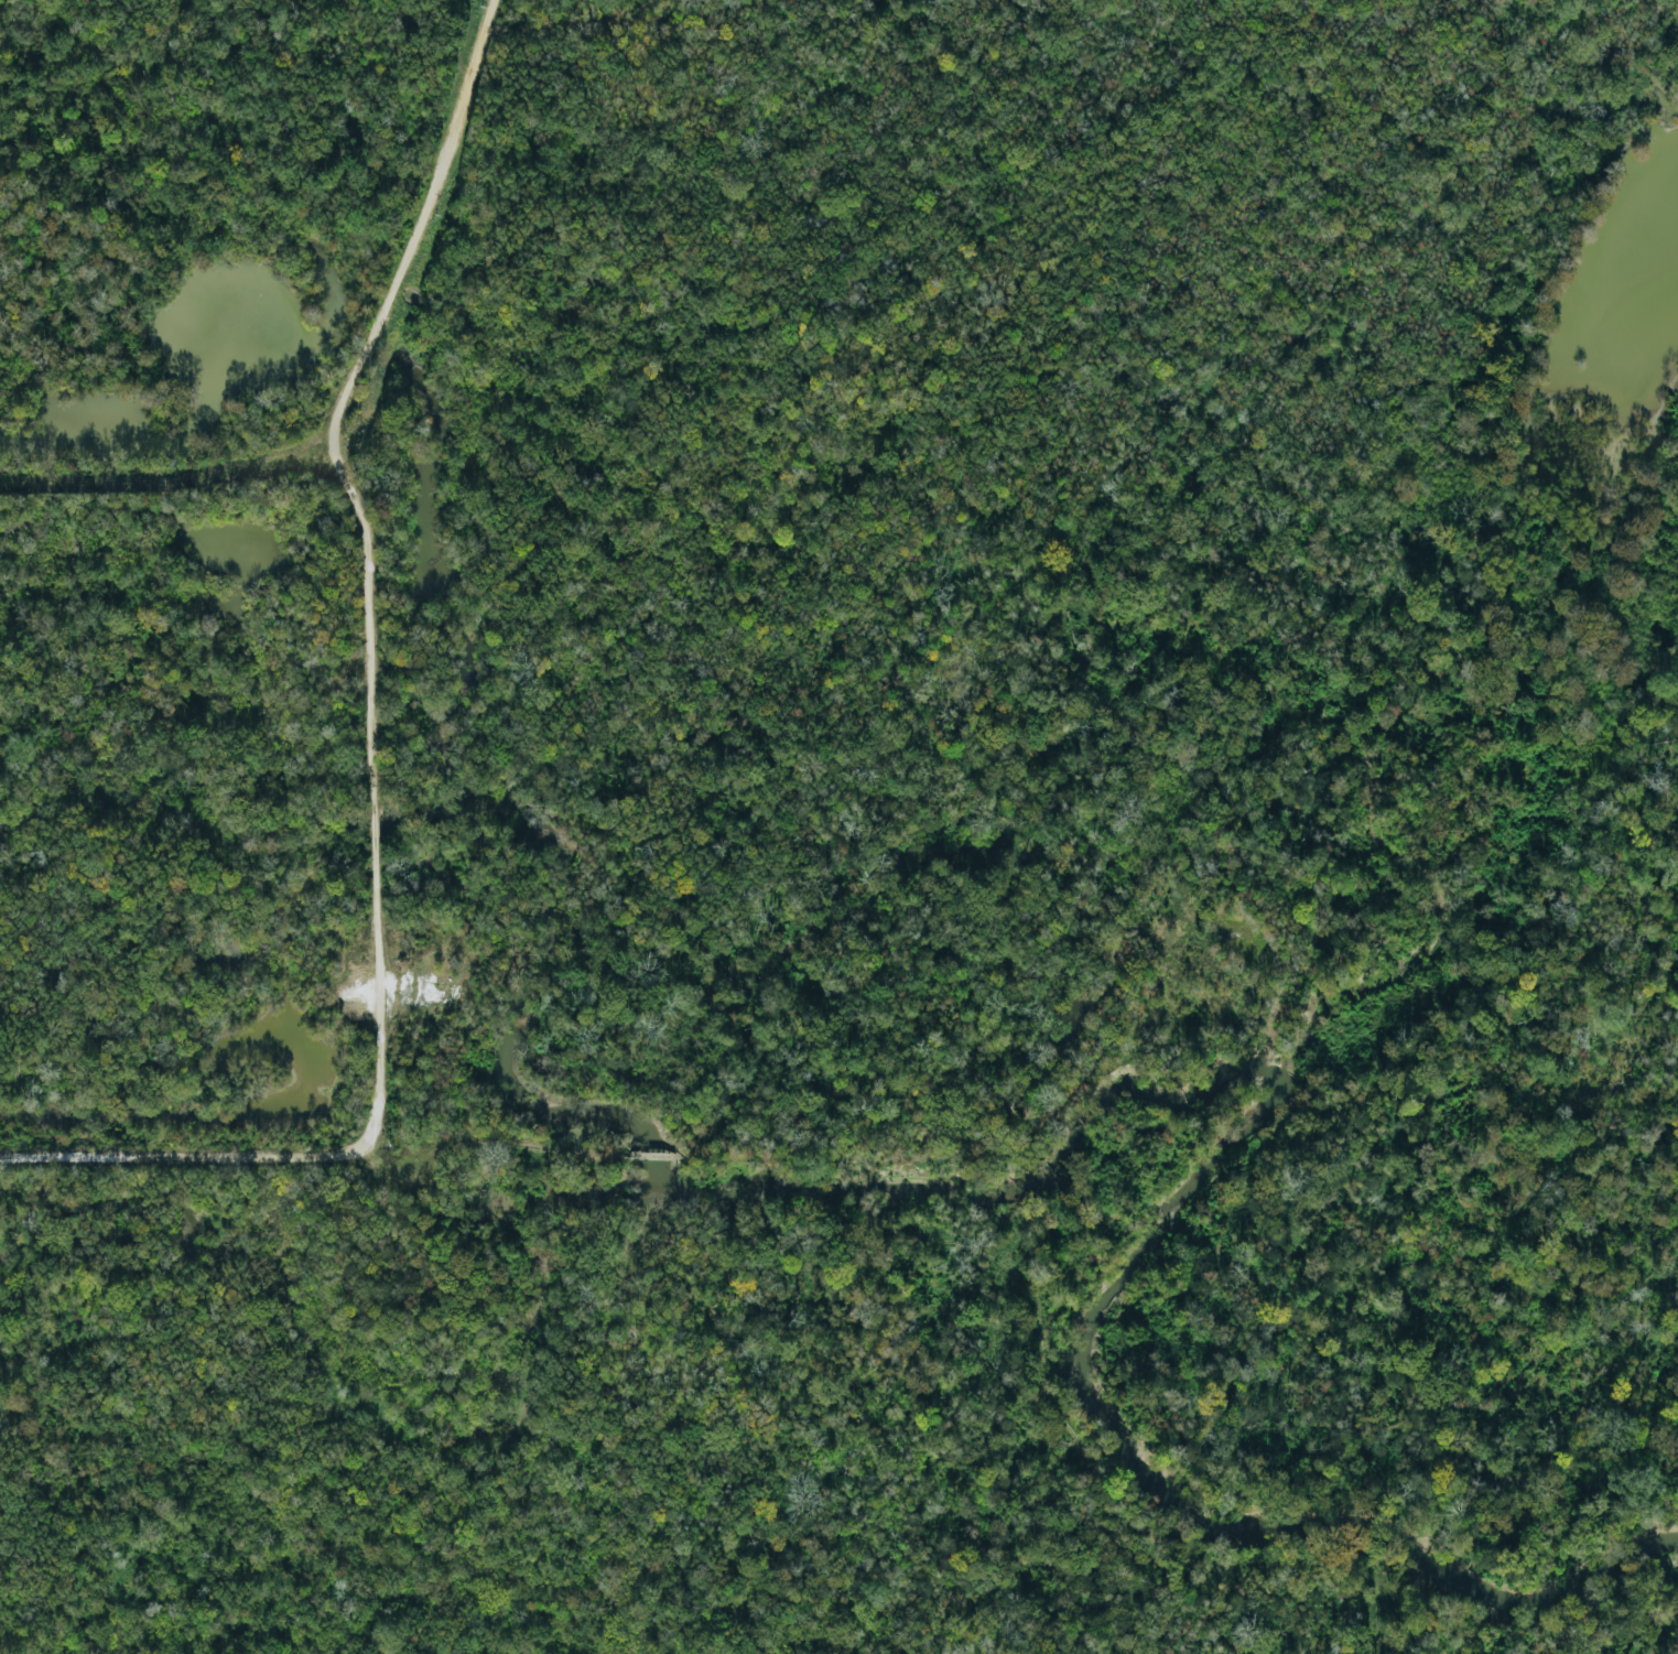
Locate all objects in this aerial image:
road: (171, 475)
road: (345, 539)
road: (195, 1157)

